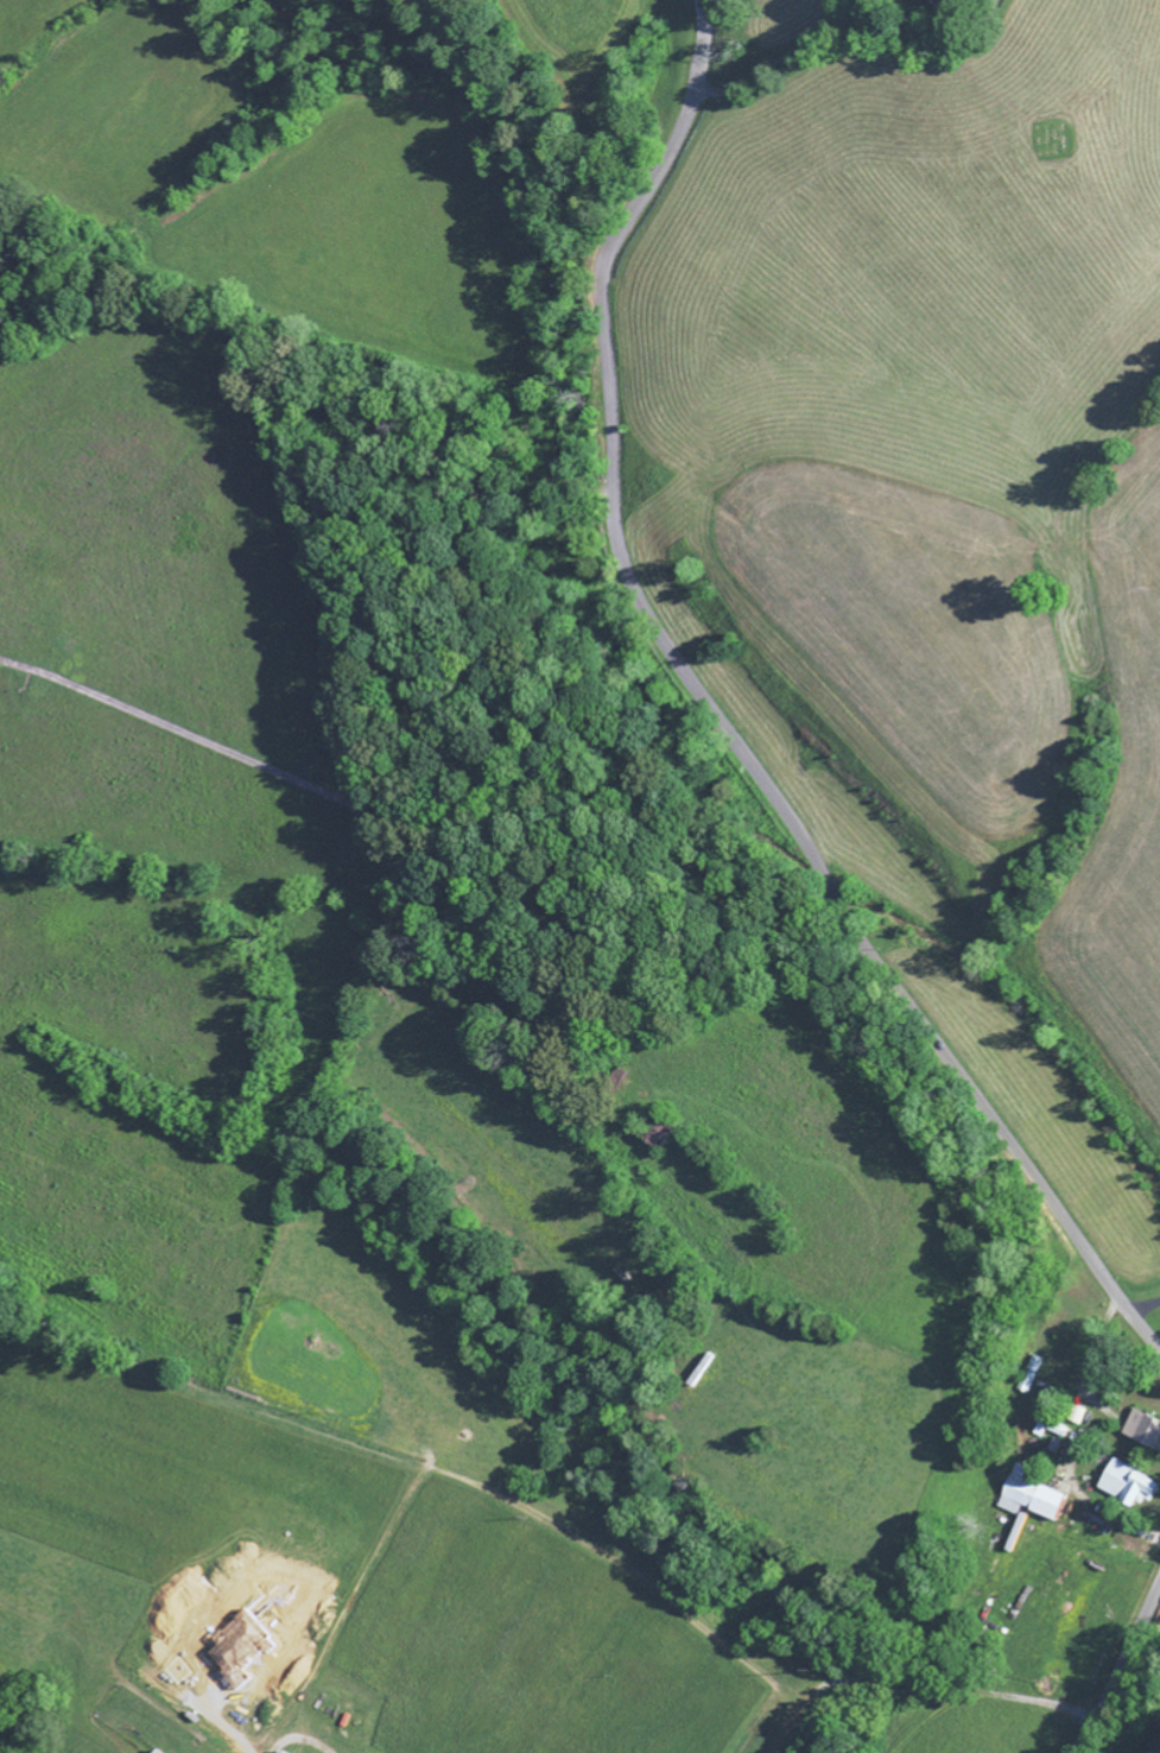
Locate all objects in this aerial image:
building: (946, 4)
road: (831, 119)
road: (720, 719)
building: (1143, 1431)
building: (1128, 1487)
building: (1028, 1499)
road: (919, 1603)
road: (1117, 1670)

